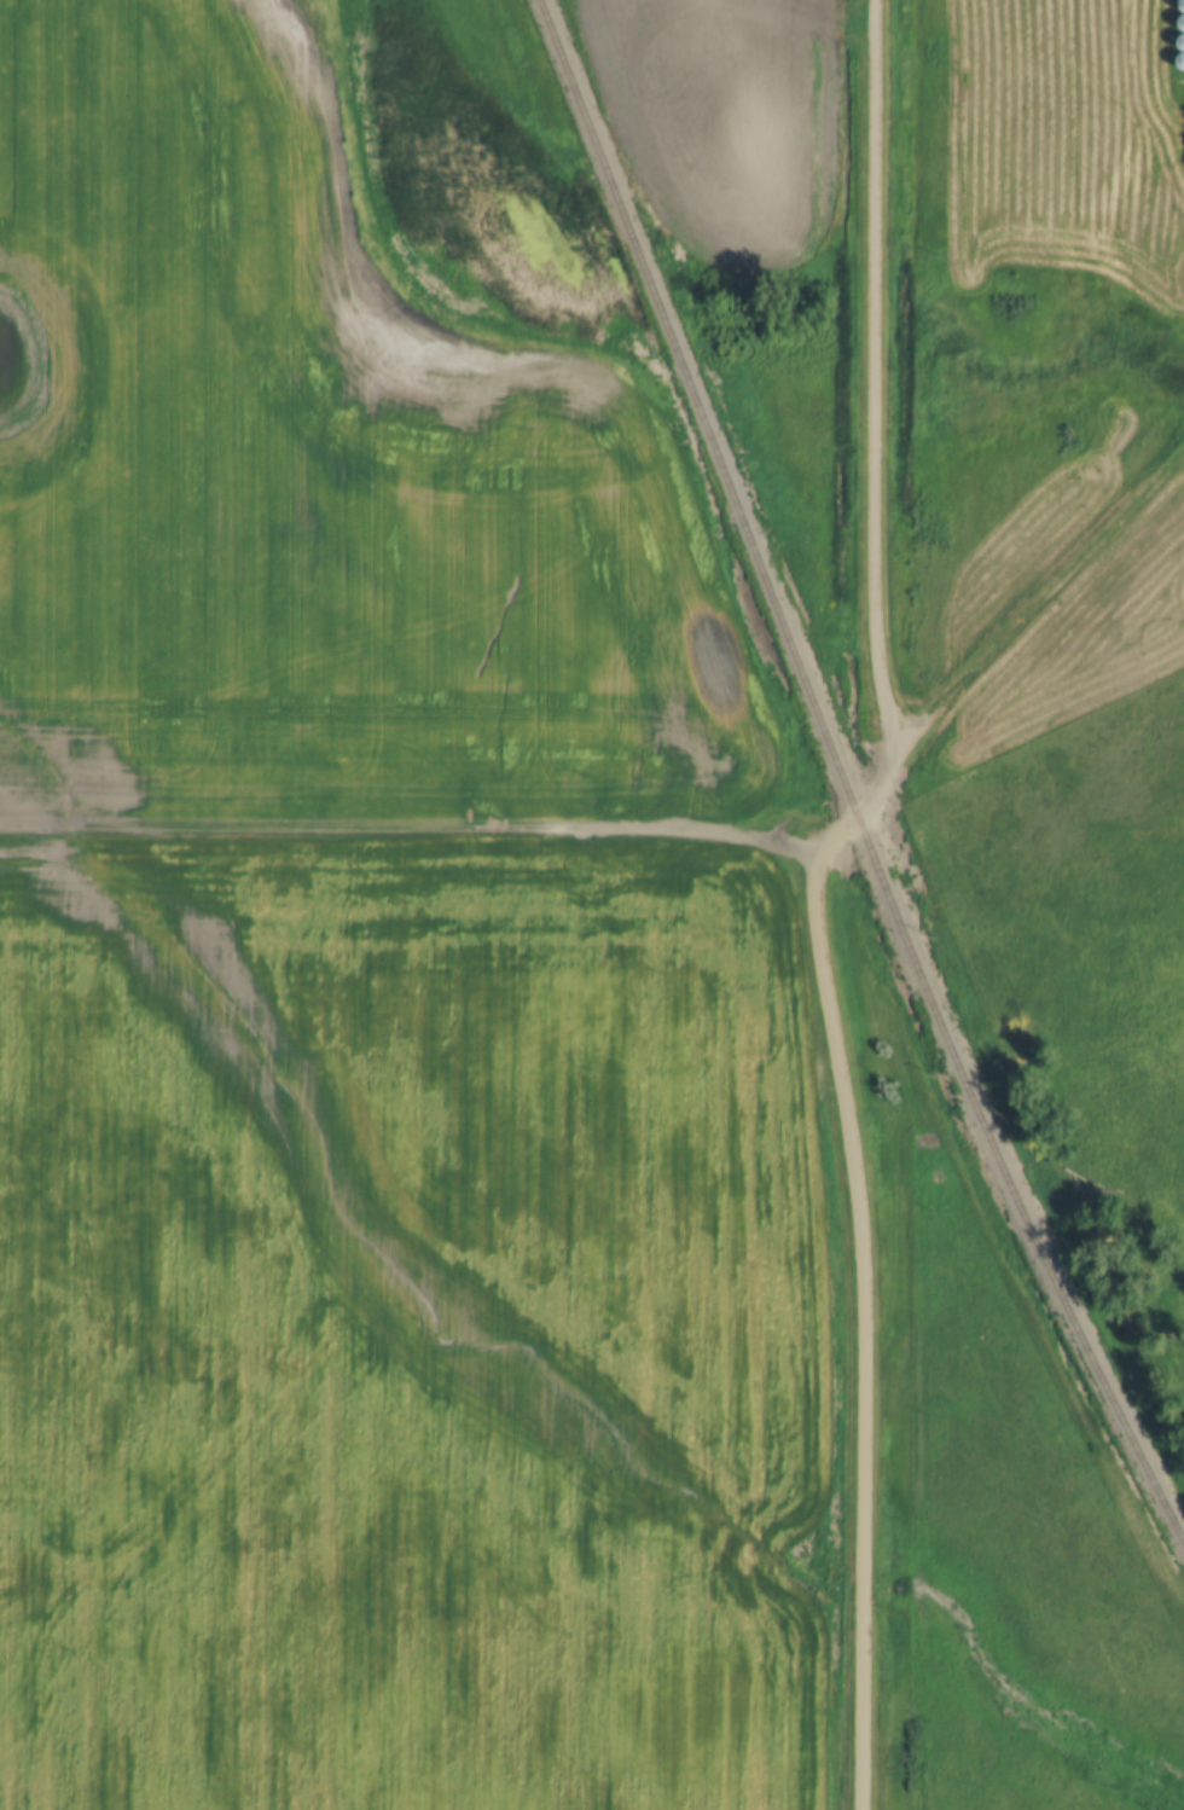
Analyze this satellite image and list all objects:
road: (874, 372)
road: (1043, 594)
railway: (842, 777)
road: (407, 835)
road: (860, 1258)

